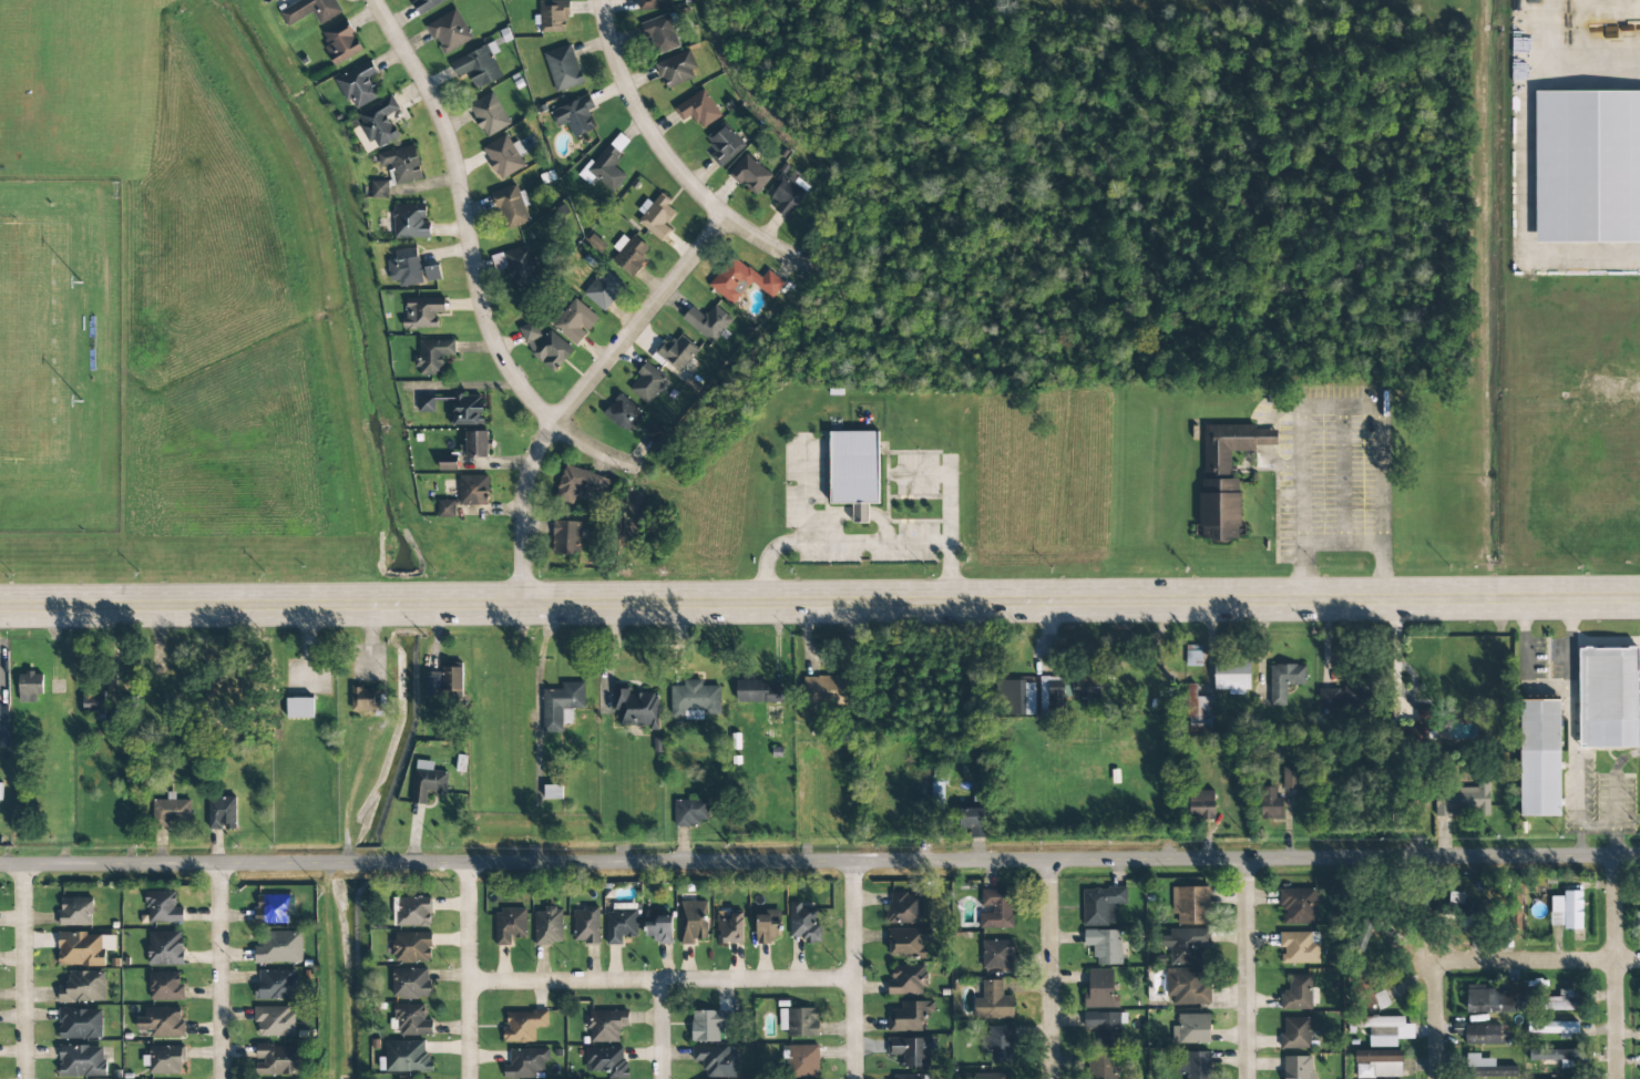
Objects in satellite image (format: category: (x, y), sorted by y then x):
building: (427, 4)
building: (654, 4)
building: (309, 10)
building: (553, 17)
building: (449, 31)
building: (660, 34)
building: (340, 42)
road: (1569, 52)
building: (478, 65)
building: (563, 68)
building: (677, 70)
building: (358, 85)
building: (698, 109)
building: (489, 114)
building: (575, 115)
building: (379, 122)
building: (724, 144)
building: (503, 156)
road: (669, 160)
building: (401, 164)
building: (609, 164)
building: (1586, 166)
building: (750, 175)
building: (379, 189)
building: (786, 194)
building: (511, 206)
building: (656, 217)
building: (410, 220)
building: (628, 255)
road: (473, 259)
building: (520, 266)
building: (412, 268)
building: (742, 280)
building: (604, 289)
building: (422, 312)
building: (573, 321)
building: (708, 322)
building: (545, 347)
building: (432, 356)
building: (647, 383)
road: (584, 391)
building: (426, 404)
building: (467, 410)
building: (623, 413)
building: (654, 431)
building: (476, 444)
building: (447, 463)
building: (853, 470)
building: (1224, 477)
building: (580, 484)
building: (473, 490)
building: (445, 508)
building: (566, 537)
road: (820, 597)
building: (1193, 655)
building: (1232, 676)
building: (443, 680)
building: (1284, 681)
building: (30, 687)
building: (1085, 687)
building: (823, 690)
building: (759, 692)
building: (1050, 697)
building: (1344, 697)
building: (1014, 698)
building: (1606, 698)
building: (366, 699)
building: (694, 700)
building: (93, 702)
building: (299, 708)
building: (635, 709)
building: (1198, 713)
building: (1426, 717)
building: (3, 726)
building: (1536, 758)
building: (1290, 778)
building: (427, 781)
building: (1395, 800)
building: (1460, 801)
building: (1201, 804)
building: (1270, 804)
building: (689, 812)
building: (222, 813)
building: (972, 821)
road: (819, 860)
building: (1190, 905)
building: (1298, 906)
building: (1511, 906)
building: (904, 907)
building: (163, 908)
building: (271, 908)
building: (996, 908)
building: (1560, 908)
building: (1458, 910)
building: (75, 912)
building: (411, 912)
road: (469, 917)
building: (1636, 919)
building: (693, 922)
building: (621, 923)
building: (803, 923)
building: (1103, 923)
building: (585, 925)
building: (509, 926)
building: (549, 926)
building: (768, 926)
building: (658, 928)
building: (729, 928)
building: (1362, 936)
building: (906, 943)
building: (1185, 946)
building: (279, 947)
building: (411, 947)
building: (1299, 947)
building: (165, 948)
building: (83, 949)
building: (997, 955)
road: (1550, 962)
road: (1615, 968)
road: (854, 969)
road: (1049, 969)
road: (1247, 969)
road: (24, 972)
road: (227, 973)
road: (663, 976)
building: (906, 980)
building: (411, 984)
building: (276, 985)
building: (165, 986)
building: (1187, 986)
building: (83, 987)
building: (1099, 990)
building: (1298, 994)
building: (1492, 999)
building: (1559, 1000)
building: (993, 1003)
road: (1436, 1010)
building: (909, 1016)
building: (411, 1020)
building: (274, 1021)
building: (799, 1021)
building: (162, 1023)
building: (80, 1024)
building: (605, 1025)
building: (708, 1025)
building: (523, 1026)
road: (469, 1027)
road: (666, 1027)
building: (1550, 1027)
building: (1105, 1028)
building: (1191, 1029)
building: (1386, 1030)
building: (1296, 1034)
building: (1482, 1035)
building: (998, 1042)
building: (911, 1050)
building: (1550, 1055)
building: (407, 1057)
building: (164, 1060)
building: (277, 1060)
building: (81, 1061)
building: (606, 1061)
building: (715, 1061)
building: (803, 1061)
building: (526, 1063)
building: (1377, 1063)
building: (1101, 1066)
building: (1195, 1066)
building: (1298, 1067)
building: (1484, 1067)
building: (990, 1076)
building: (908, 1077)
building: (420, 1078)

